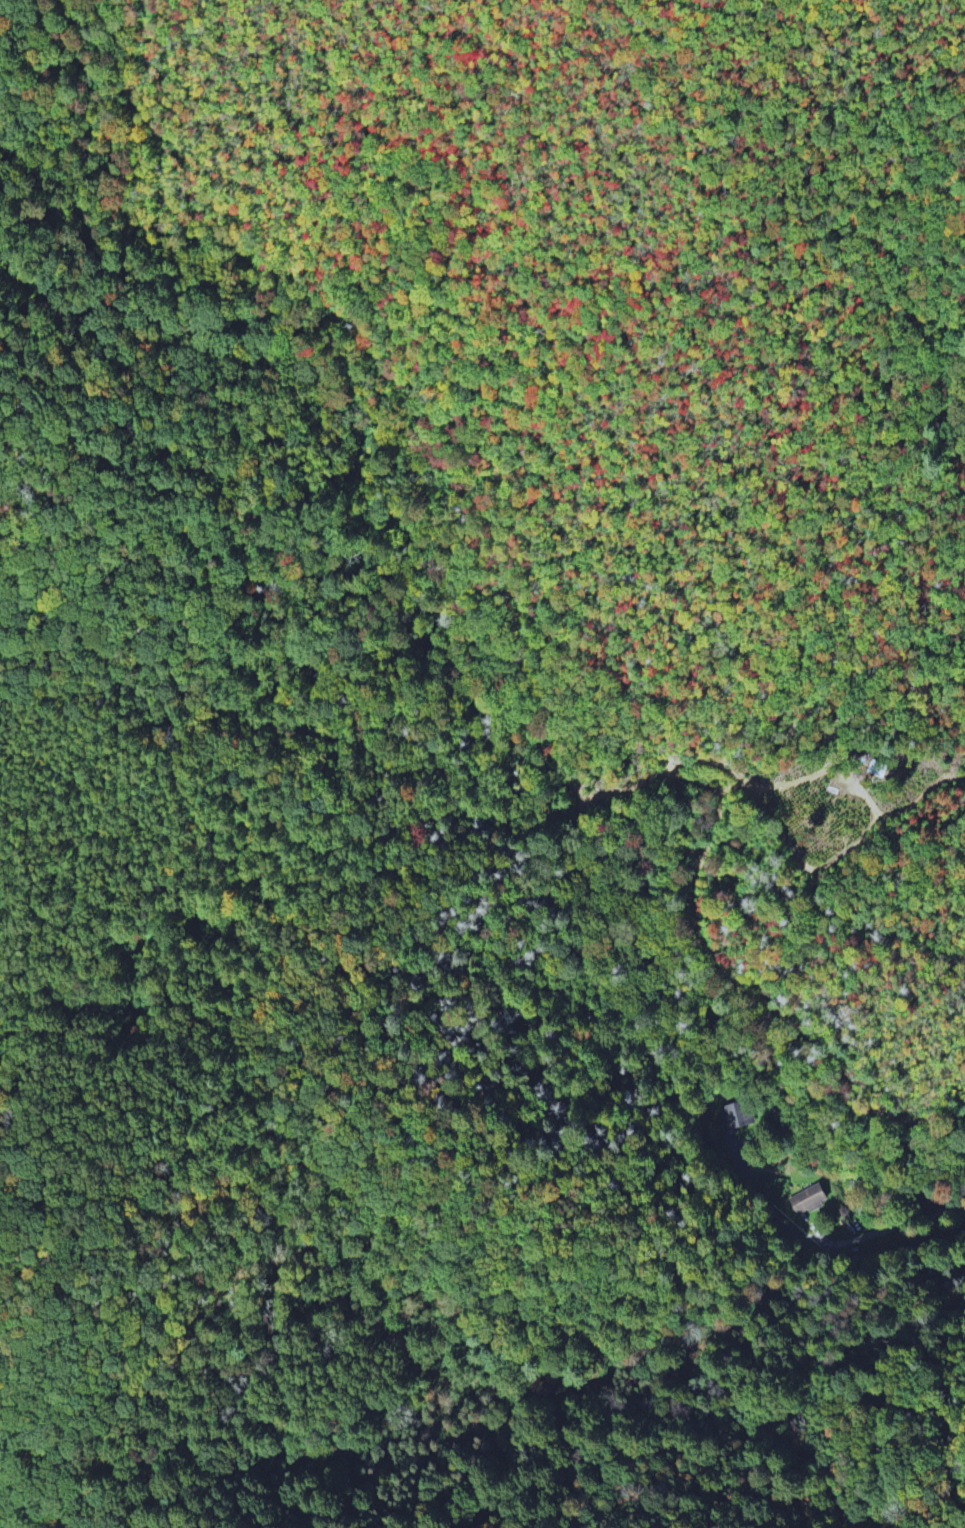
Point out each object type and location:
road: (79, 516)
river: (430, 638)
road: (15, 742)
road: (4, 995)
road: (763, 1208)
road: (898, 1225)

